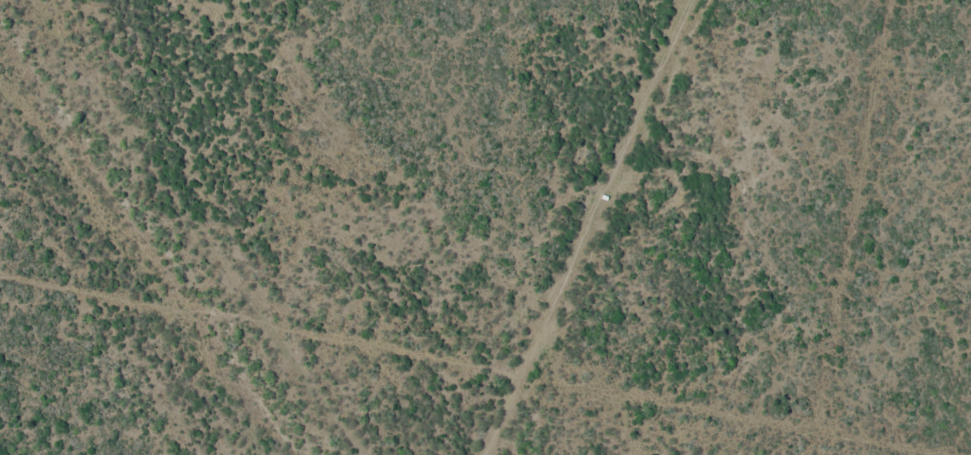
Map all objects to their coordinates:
road: (619, 228)

